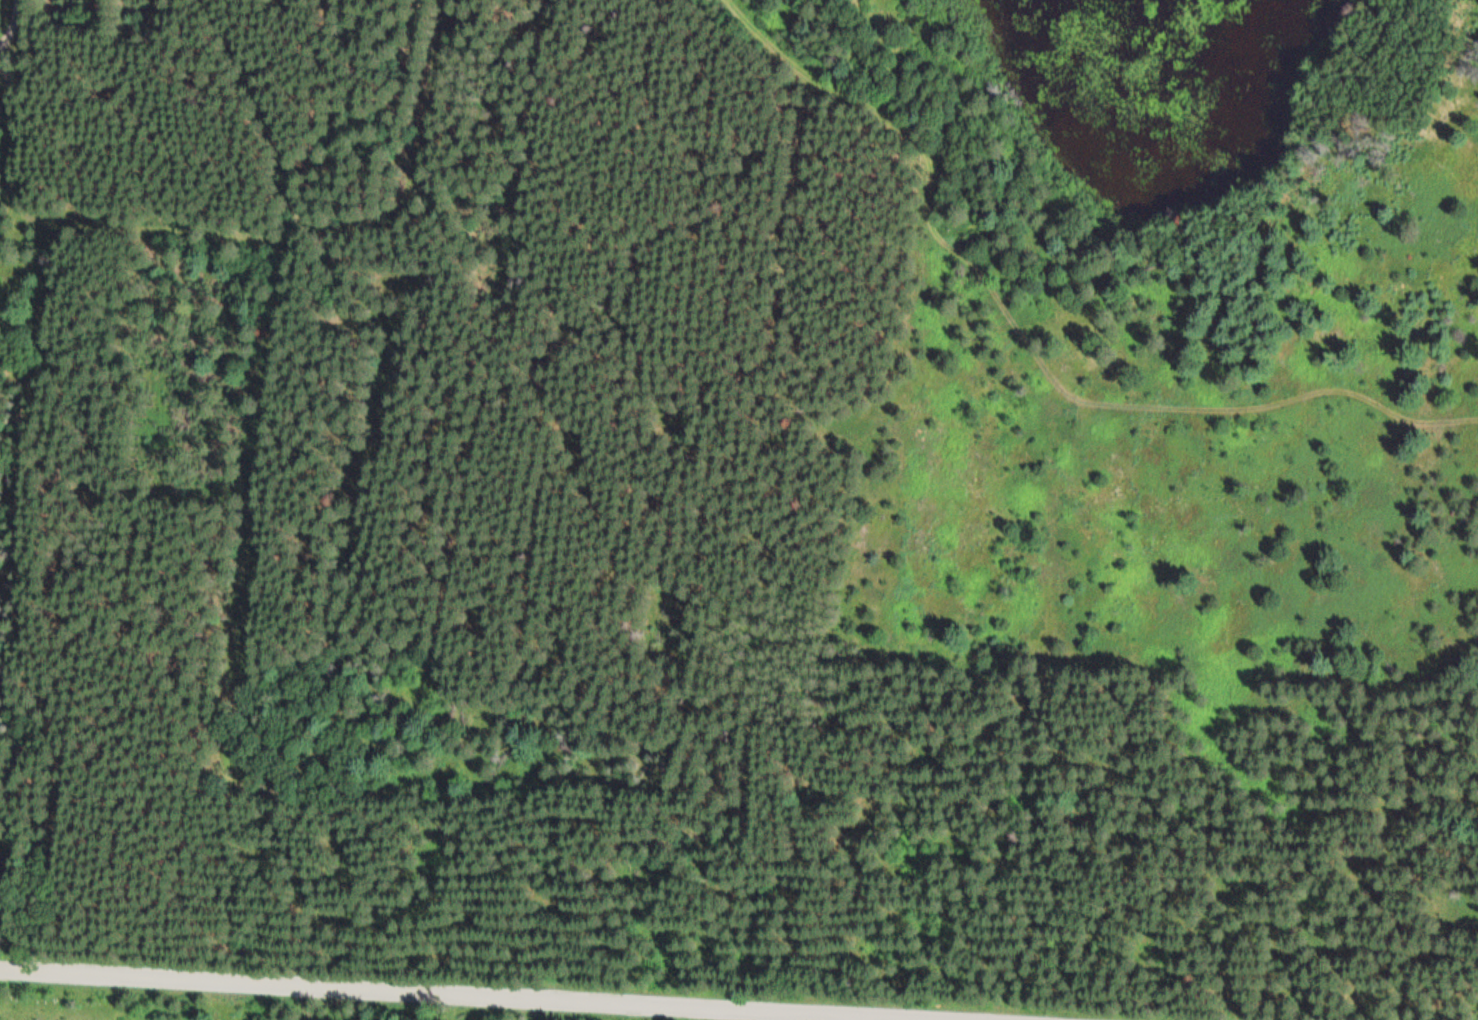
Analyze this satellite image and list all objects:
road: (512, 993)

